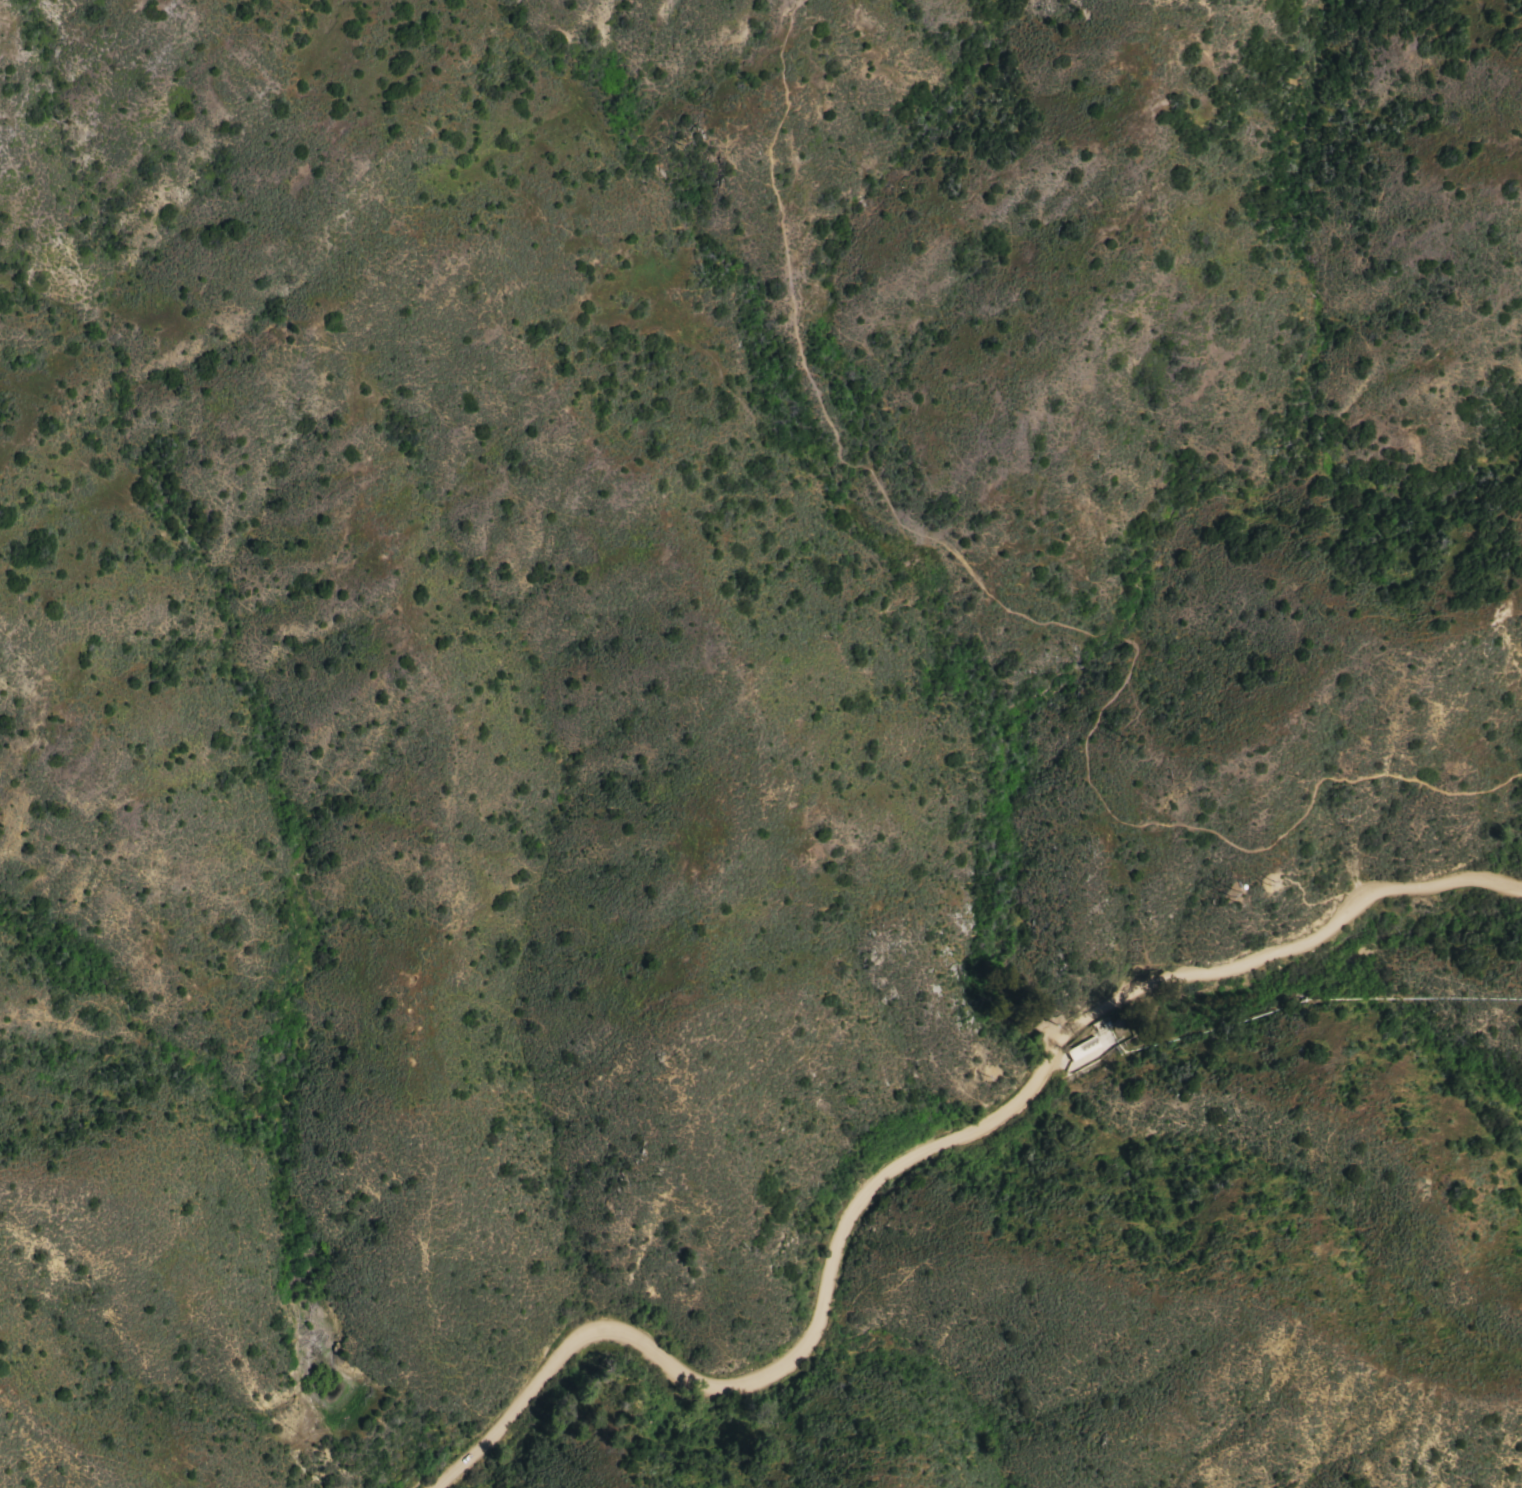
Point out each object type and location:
road: (1045, 622)
building: (1101, 1022)
building: (1082, 1047)
road: (922, 1151)

